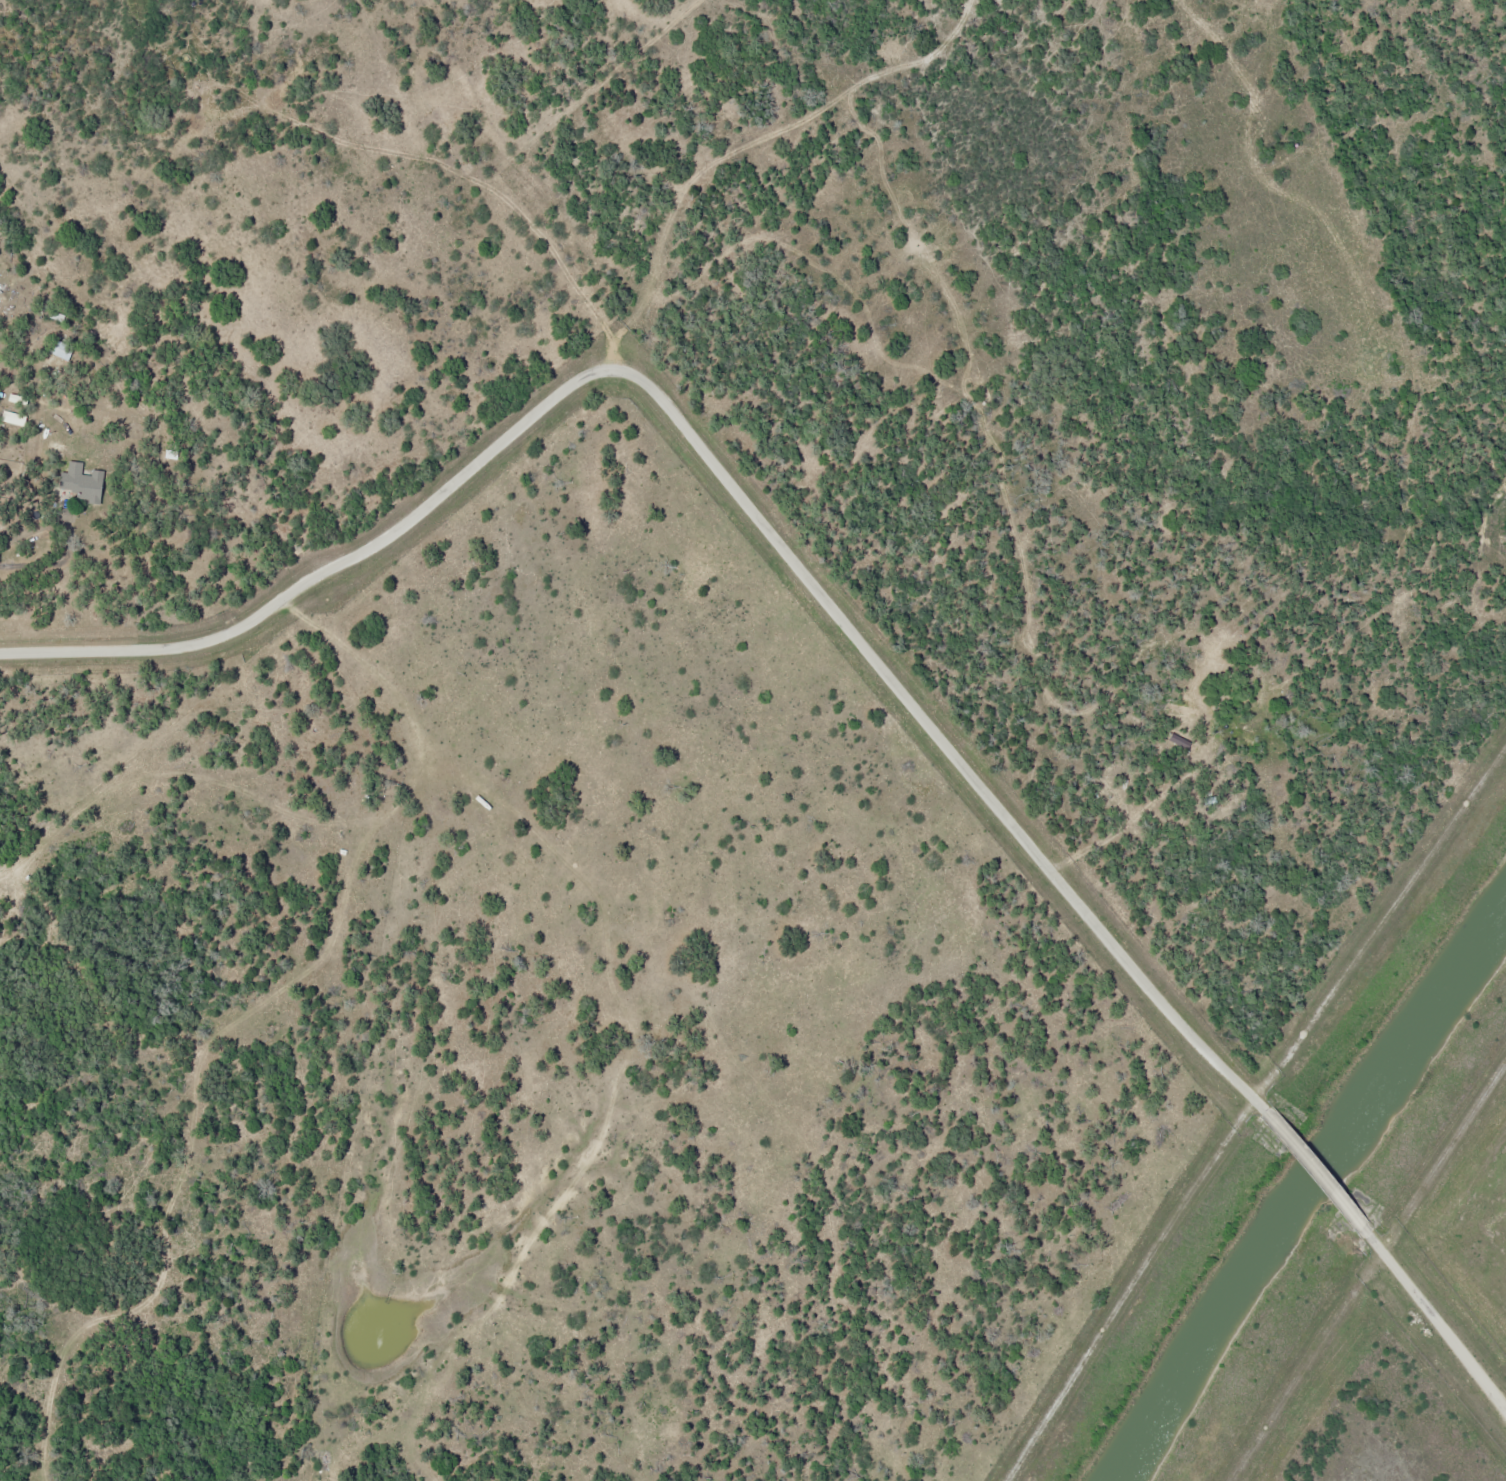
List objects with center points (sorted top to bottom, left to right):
building: (59, 349)
building: (12, 418)
road: (720, 463)
building: (80, 482)
road: (1248, 1107)
road: (1330, 1179)
road: (1369, 1276)
road: (1445, 1333)

